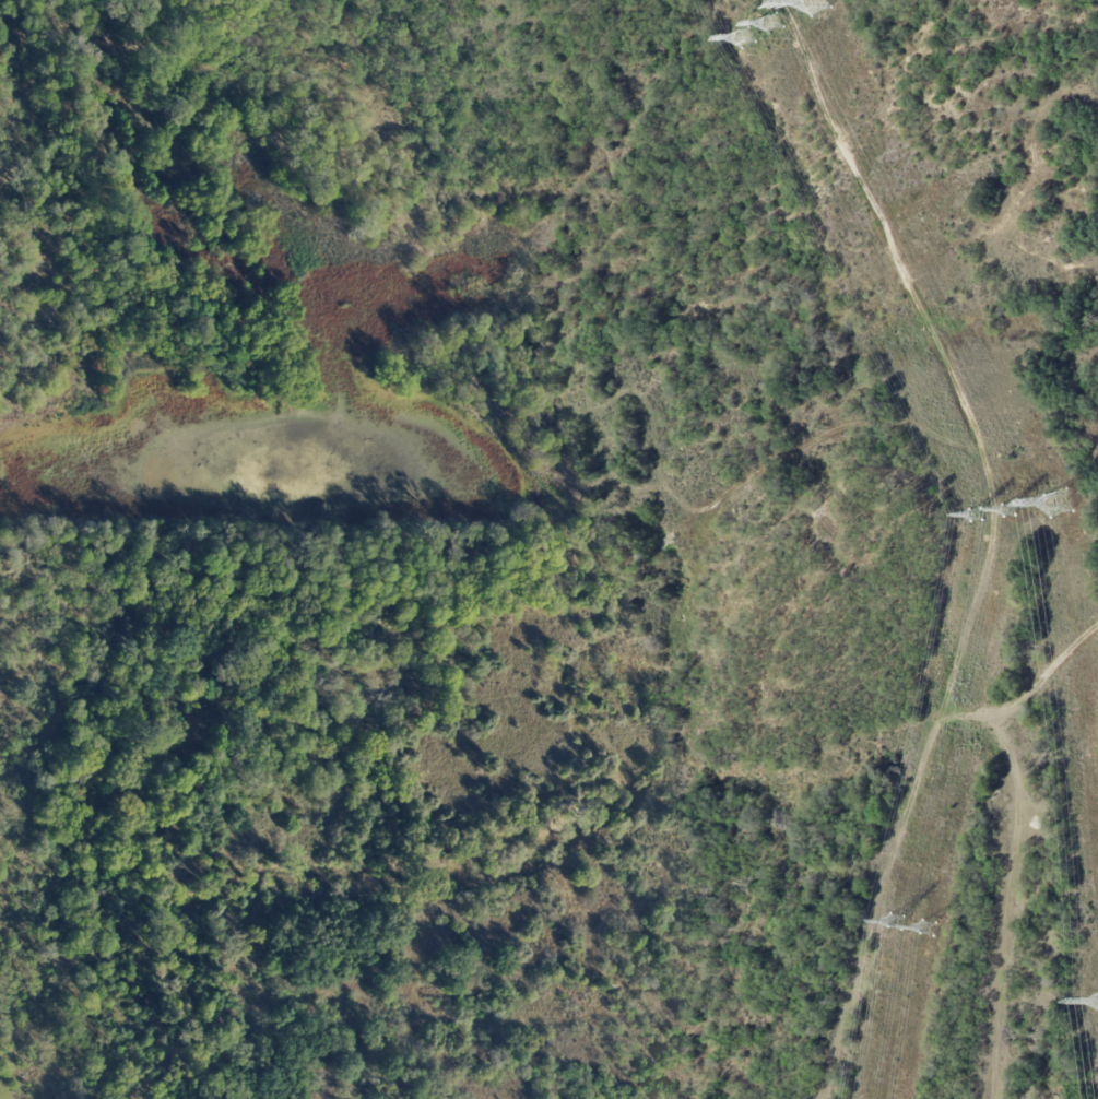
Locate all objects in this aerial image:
power tower: (817, 2)
power tower: (774, 25)
power tower: (746, 40)
power tower: (1062, 501)
power tower: (1007, 511)
power tower: (975, 516)
road: (993, 540)
road: (1030, 693)
power tower: (888, 918)
power tower: (929, 925)

